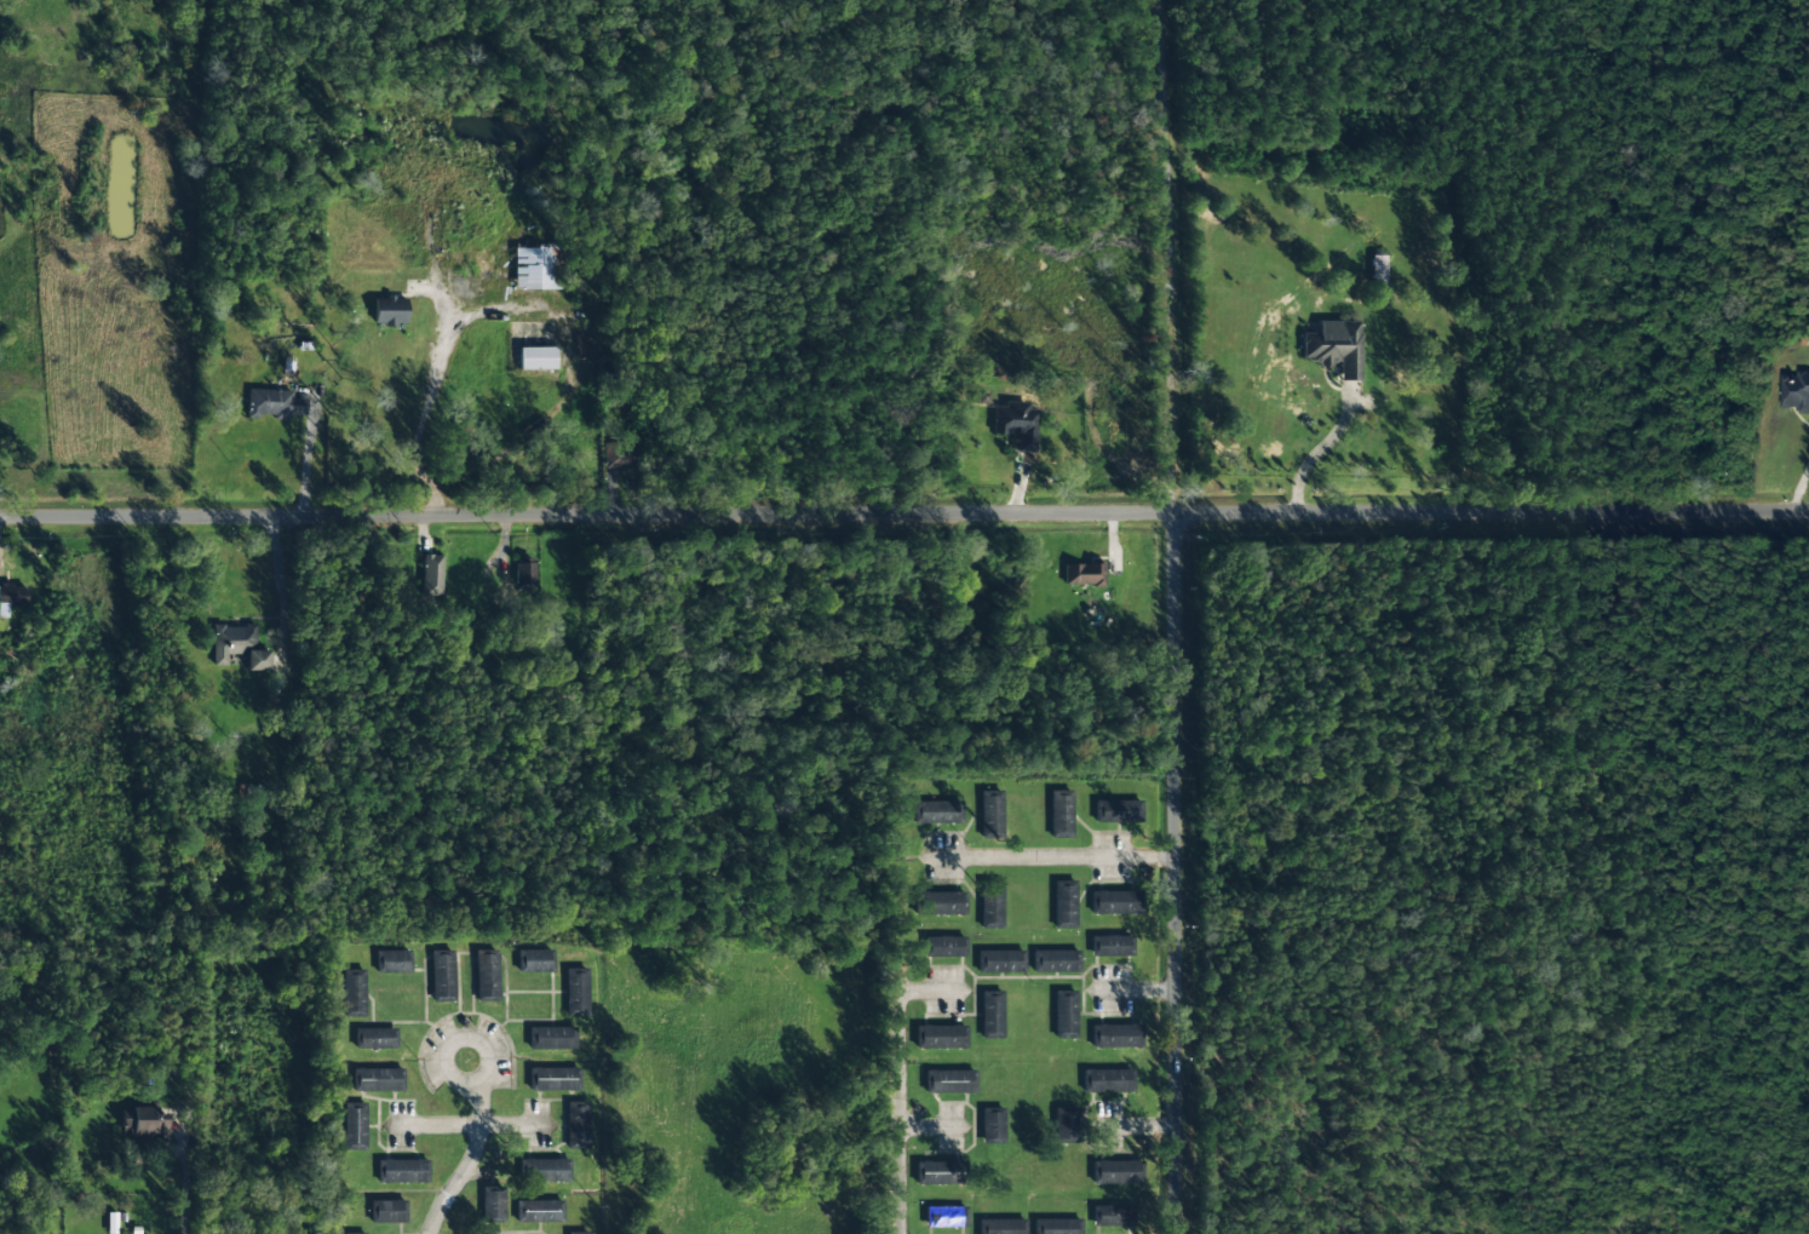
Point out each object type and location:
road: (1715, 206)
building: (538, 266)
building: (1378, 269)
building: (389, 311)
building: (1334, 348)
building: (536, 358)
road: (1799, 358)
building: (1793, 392)
building: (272, 403)
building: (1016, 424)
building: (619, 455)
road: (903, 512)
building: (524, 572)
building: (1082, 574)
building: (431, 575)
building: (12, 595)
building: (231, 641)
building: (257, 660)
building: (249, 791)
building: (937, 811)
building: (1116, 811)
building: (990, 814)
building: (1059, 814)
road: (1052, 856)
road: (1177, 873)
building: (940, 902)
building: (1115, 902)
building: (990, 905)
building: (1063, 905)
building: (943, 946)
building: (1110, 946)
building: (535, 960)
building: (1000, 960)
building: (1055, 960)
building: (392, 962)
building: (442, 975)
building: (487, 975)
building: (575, 991)
building: (354, 992)
building: (990, 1014)
building: (1064, 1014)
building: (1115, 1035)
building: (940, 1037)
building: (374, 1038)
building: (551, 1038)
road: (506, 1044)
road: (1051, 1057)
building: (377, 1079)
building: (553, 1079)
building: (1107, 1080)
building: (948, 1081)
building: (144, 1123)
building: (576, 1125)
building: (992, 1125)
building: (1064, 1125)
building: (354, 1126)
road: (478, 1169)
building: (546, 1170)
building: (402, 1171)
building: (935, 1172)
building: (1116, 1172)
road: (182, 1182)
road: (1050, 1189)
building: (492, 1204)
building: (387, 1211)
building: (539, 1211)
building: (944, 1216)
building: (1112, 1216)
building: (1001, 1226)
building: (1056, 1226)
building: (356, 1233)
building: (578, 1233)

